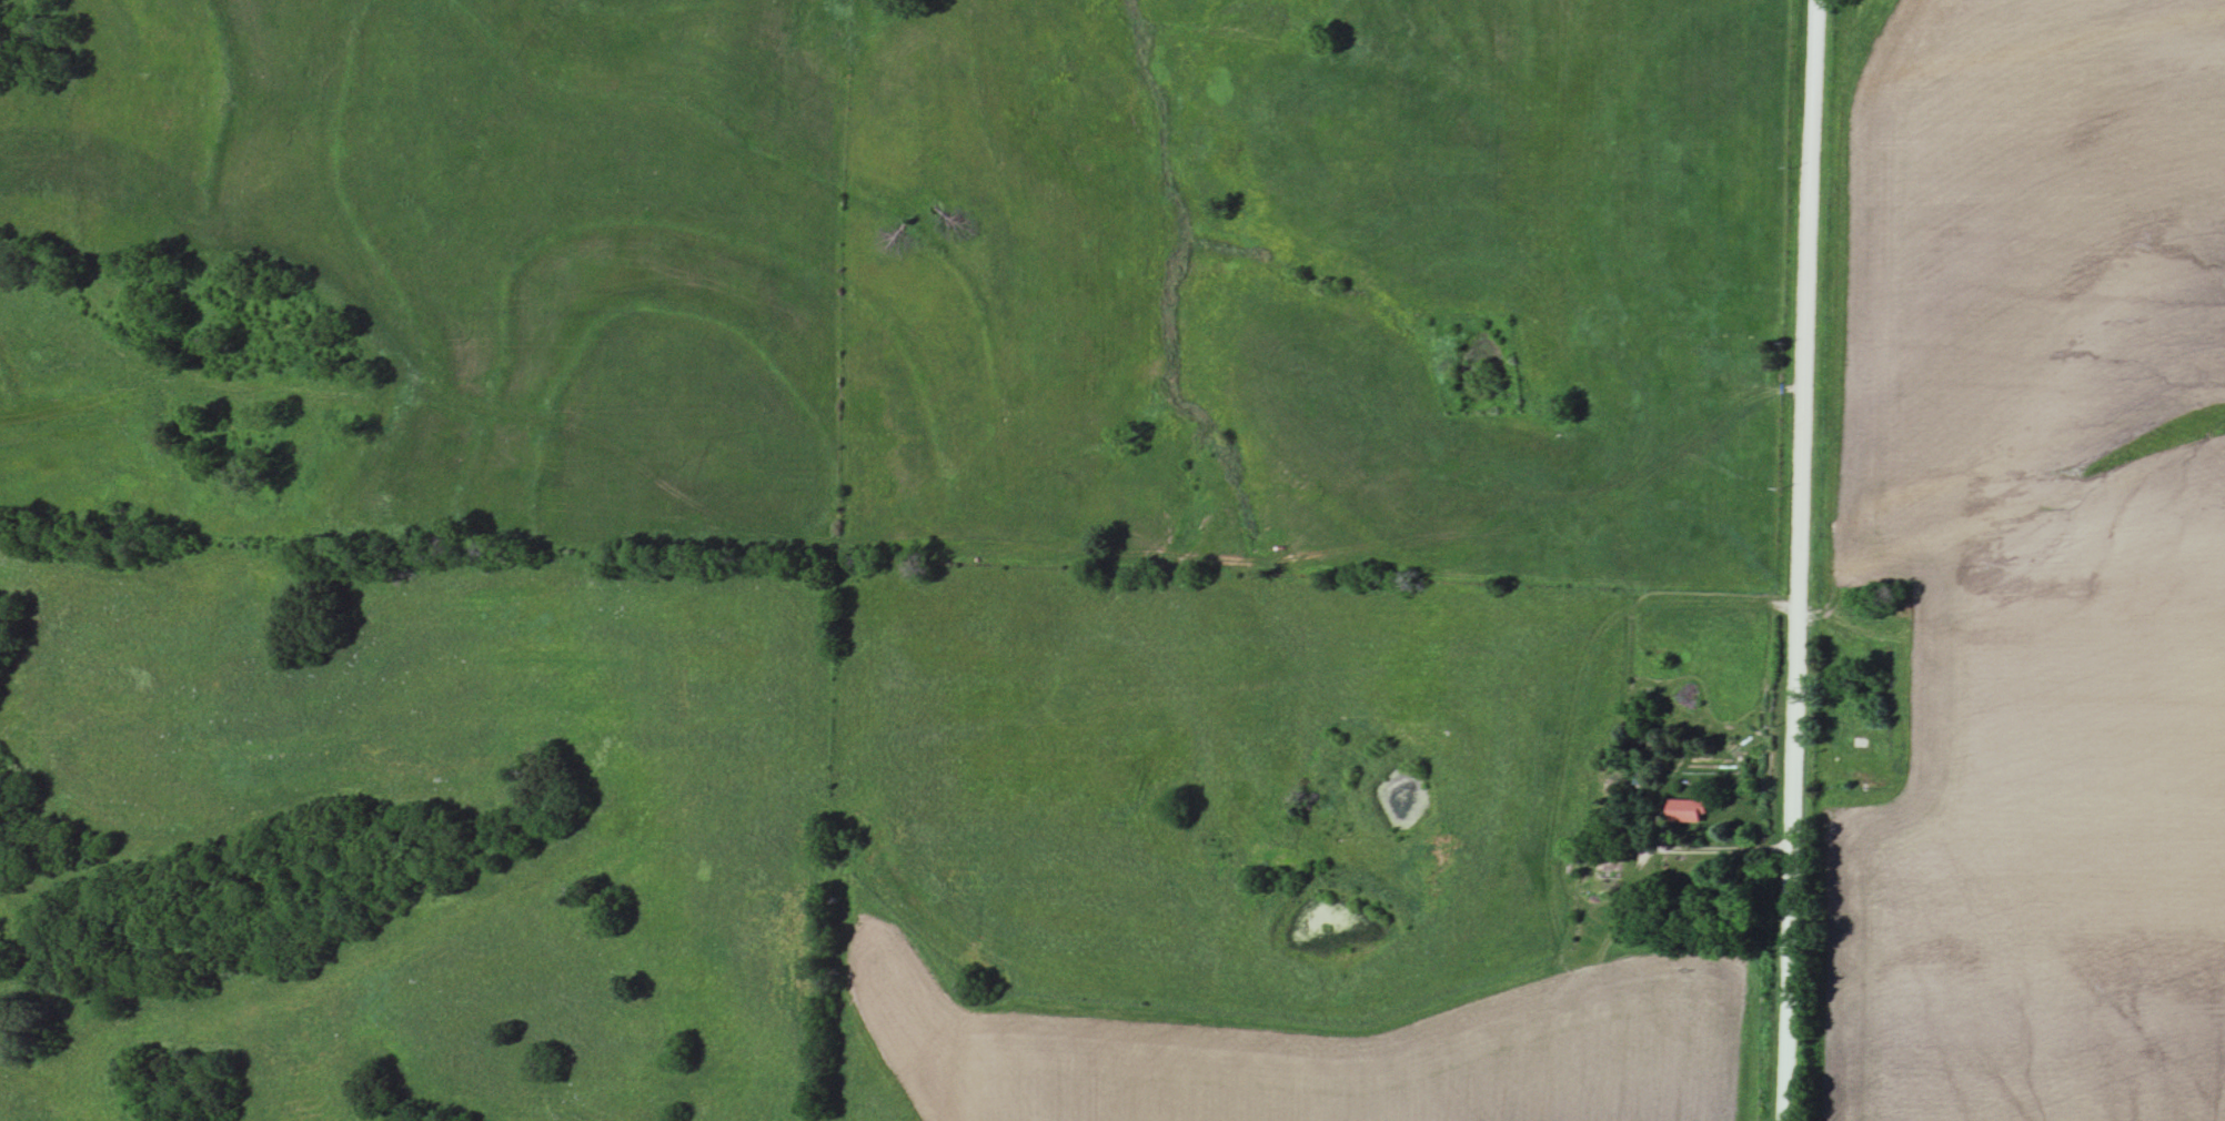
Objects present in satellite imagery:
road: (1796, 559)
crop: (2031, 569)
building: (1688, 814)
road: (1726, 848)
building: (1607, 871)
crop: (1320, 1052)

